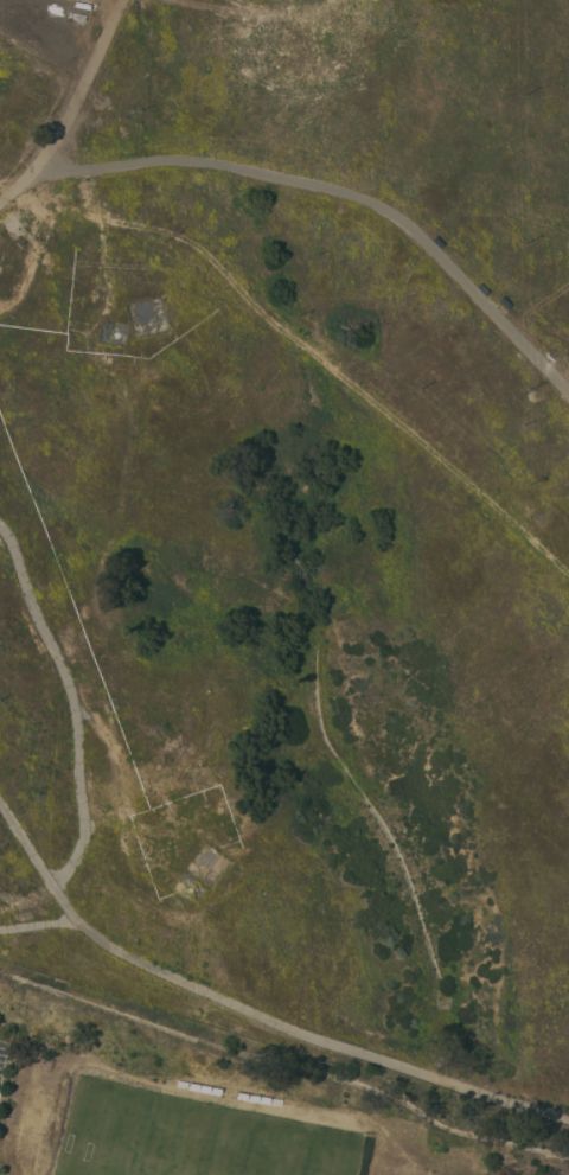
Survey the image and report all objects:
road: (69, 106)
road: (335, 187)
building: (4, 950)
building: (198, 1005)
road: (250, 1010)
parking lot: (4, 1041)
park: (185, 1138)

